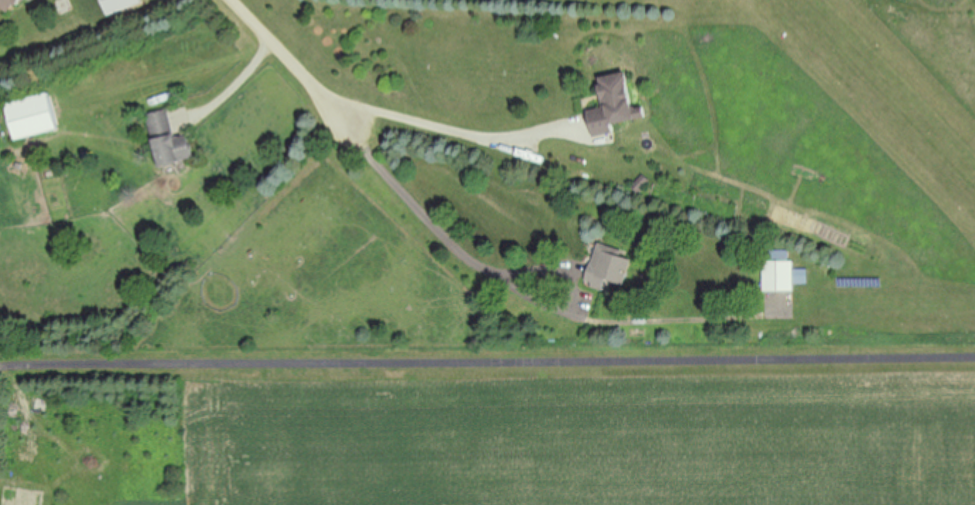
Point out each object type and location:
building: (9, 3)
road: (294, 62)
road: (237, 81)
airport runway: (889, 88)
airport: (862, 120)
road: (453, 132)
building: (168, 140)
building: (607, 268)
road: (533, 297)
road: (493, 366)
road: (6, 369)
crop: (583, 436)

